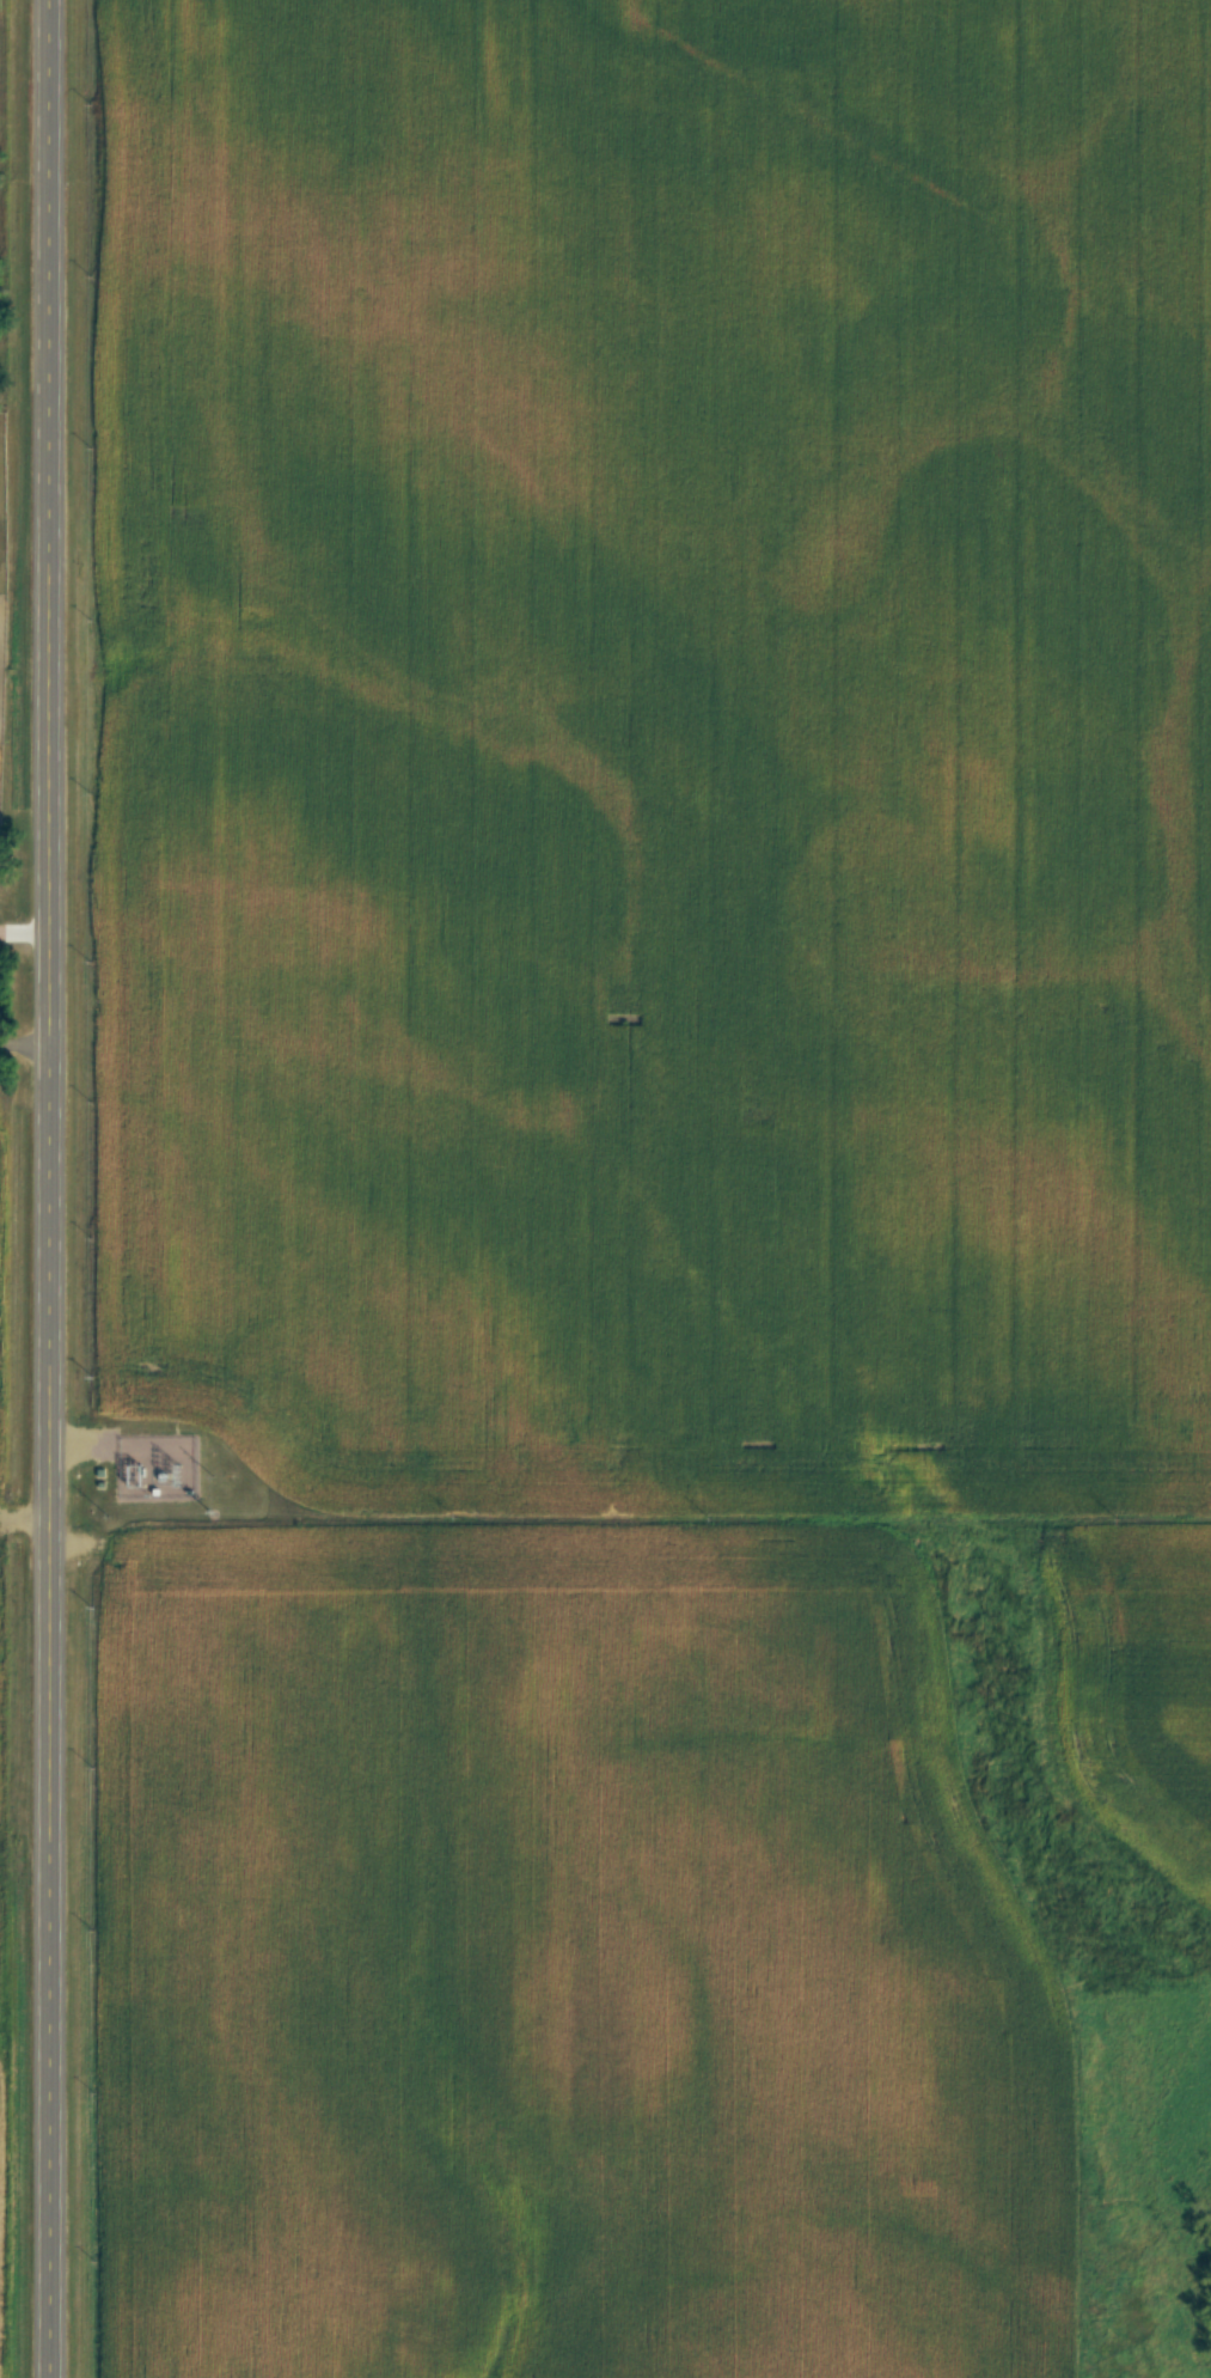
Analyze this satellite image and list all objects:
road: (30, 938)
road: (30, 1047)
road: (60, 1188)

